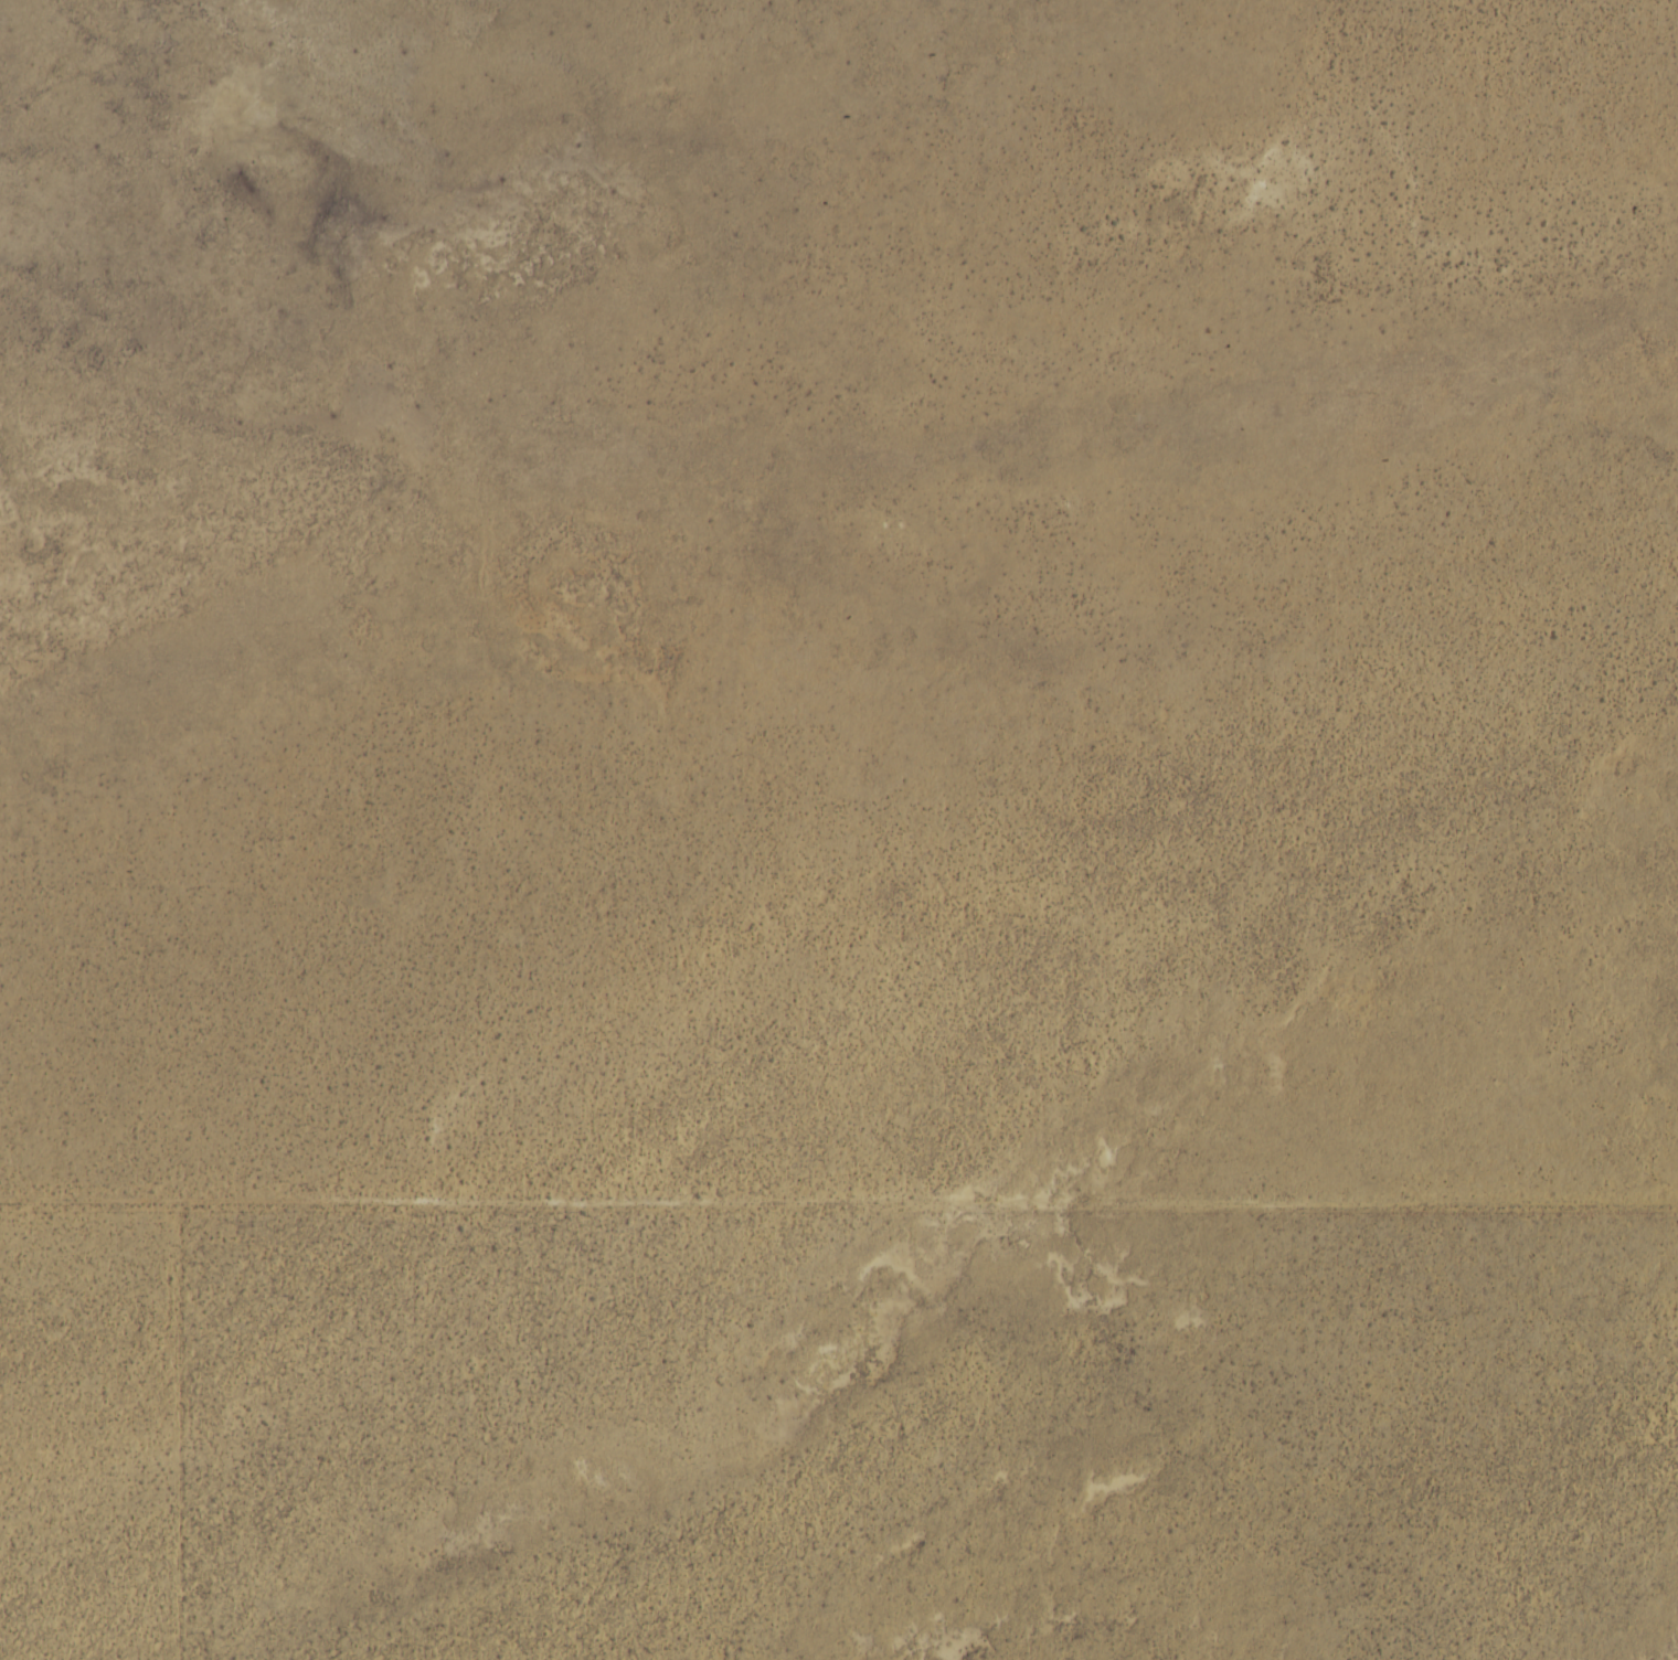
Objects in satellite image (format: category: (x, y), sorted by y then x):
road: (838, 1232)

